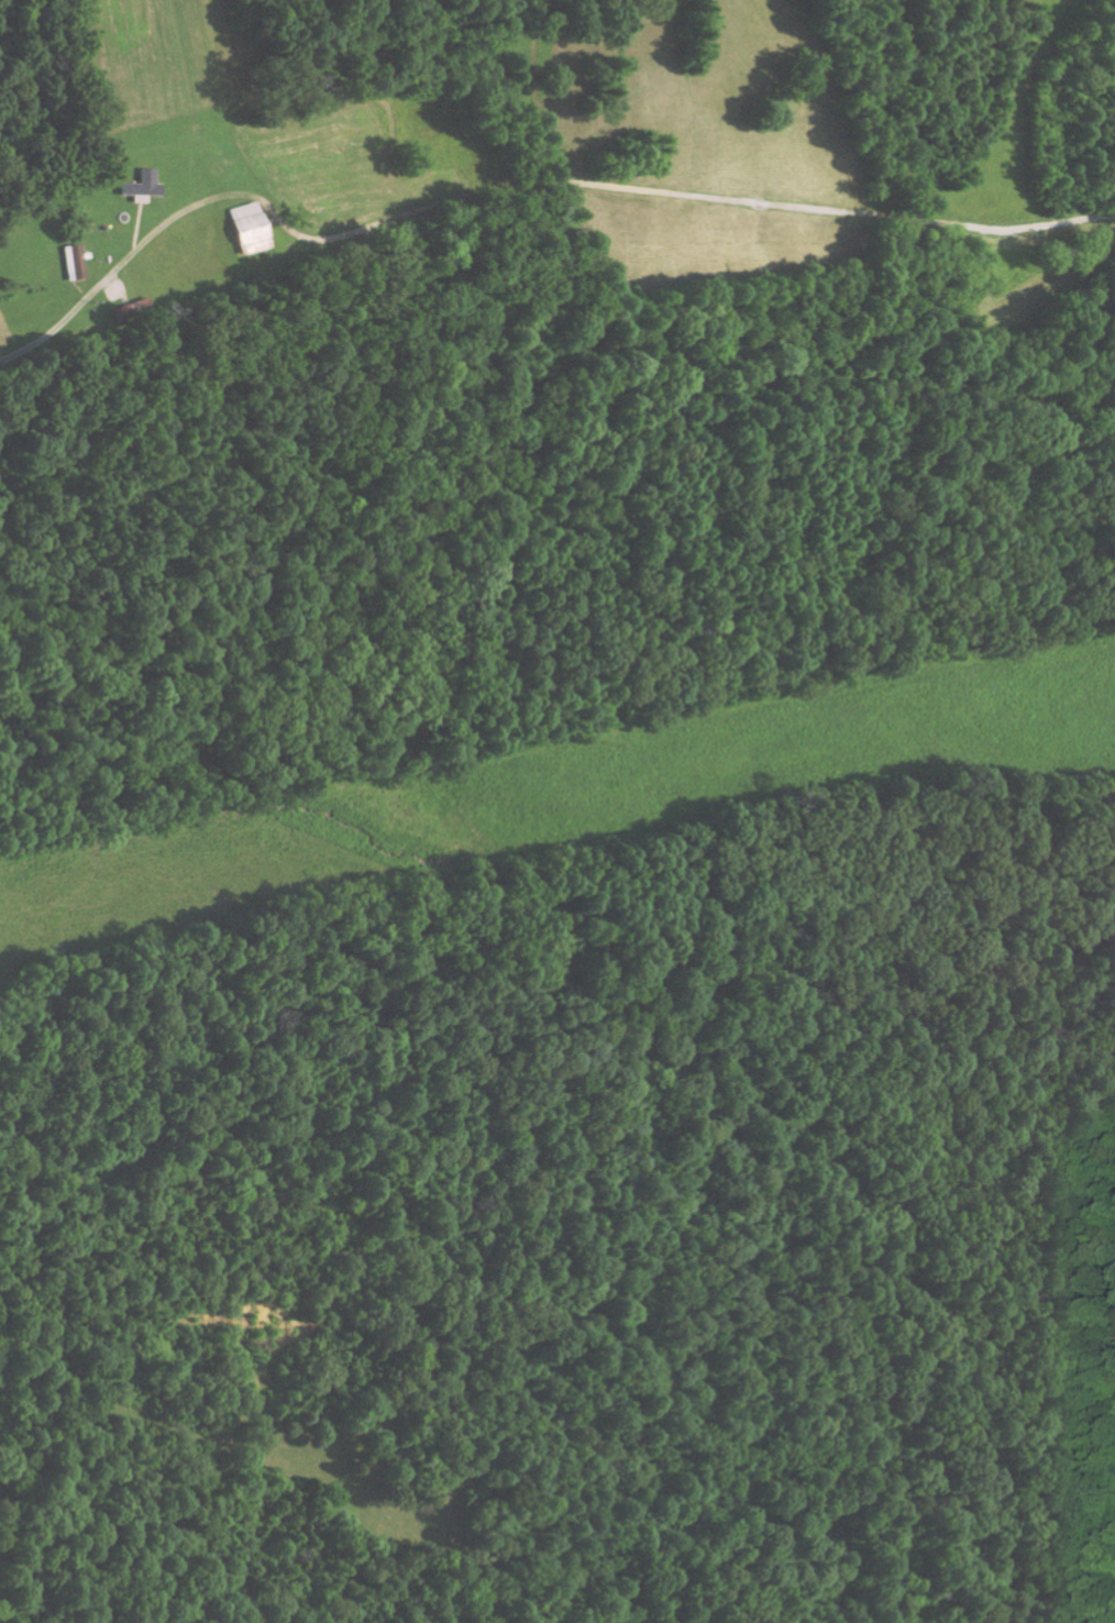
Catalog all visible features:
building: (143, 186)
building: (250, 228)
building: (75, 262)

